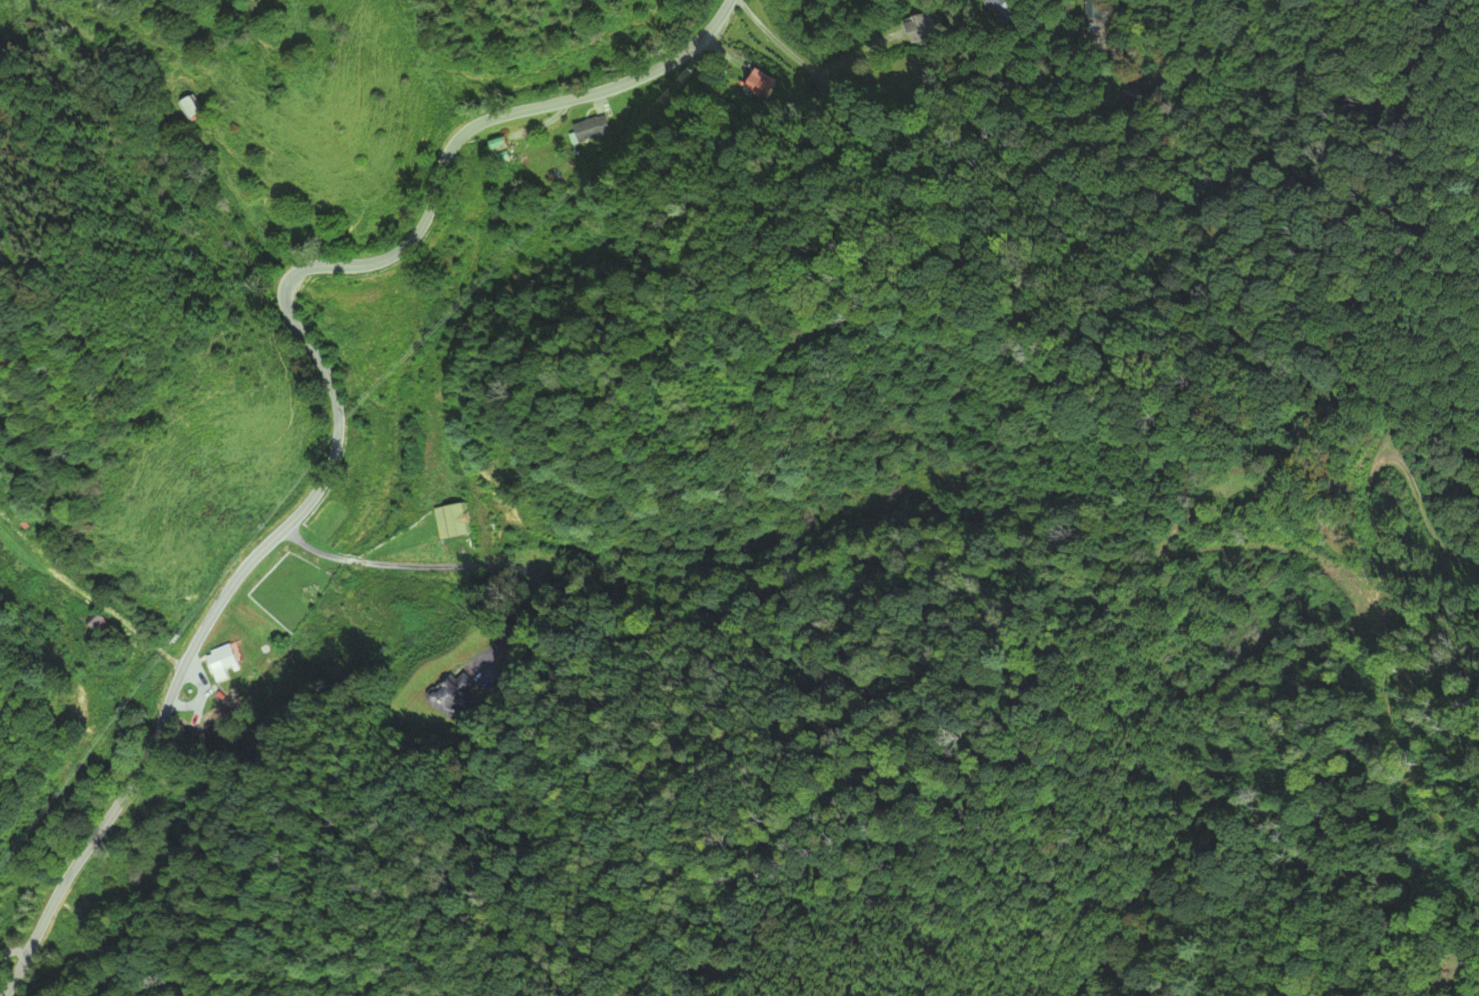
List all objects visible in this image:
building: (931, 29)
road: (1153, 38)
road: (811, 68)
building: (189, 108)
building: (587, 131)
building: (500, 143)
road: (335, 397)
building: (453, 520)
road: (379, 563)
building: (98, 624)
building: (219, 658)
building: (458, 692)

